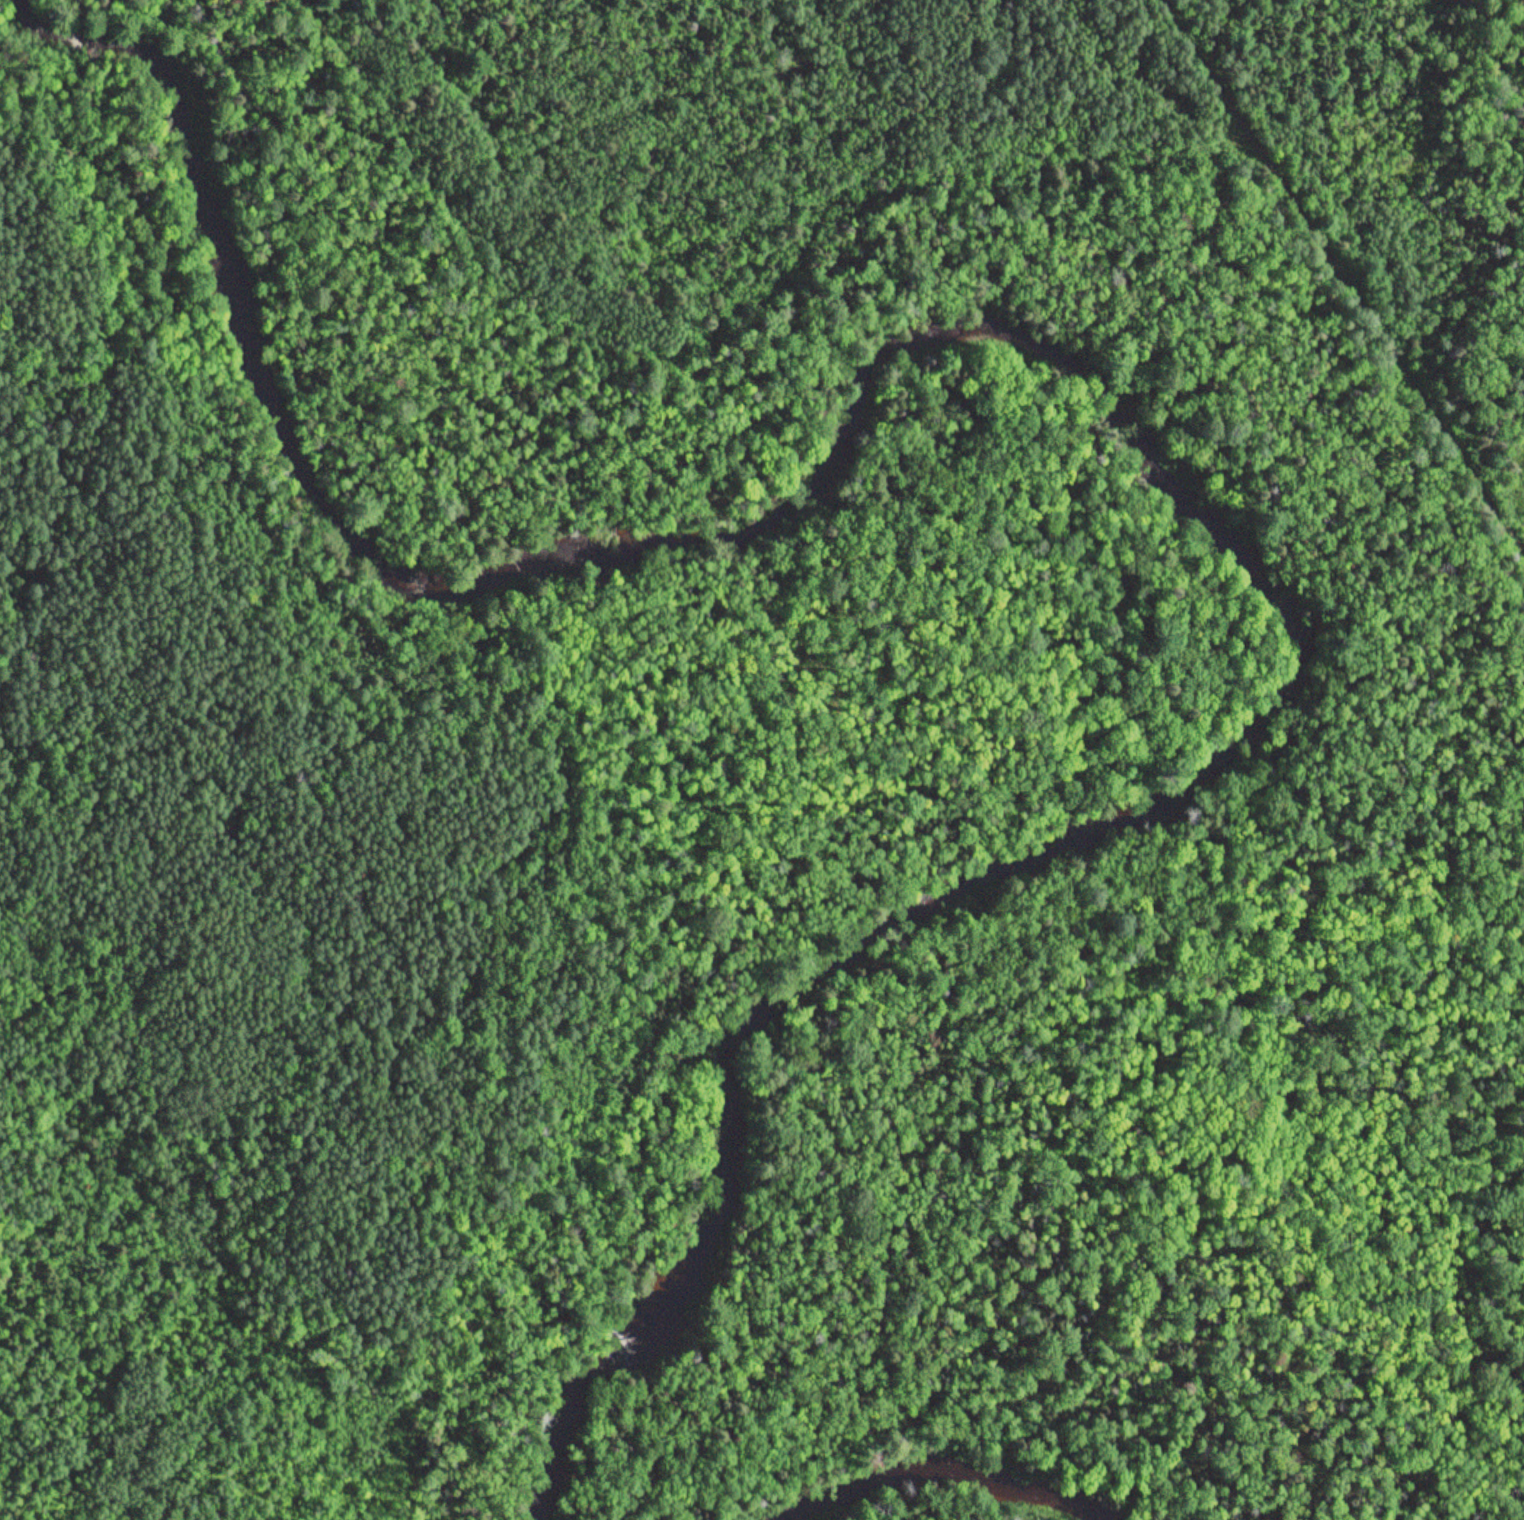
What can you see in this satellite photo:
river: (1090, 399)
river: (943, 1504)

